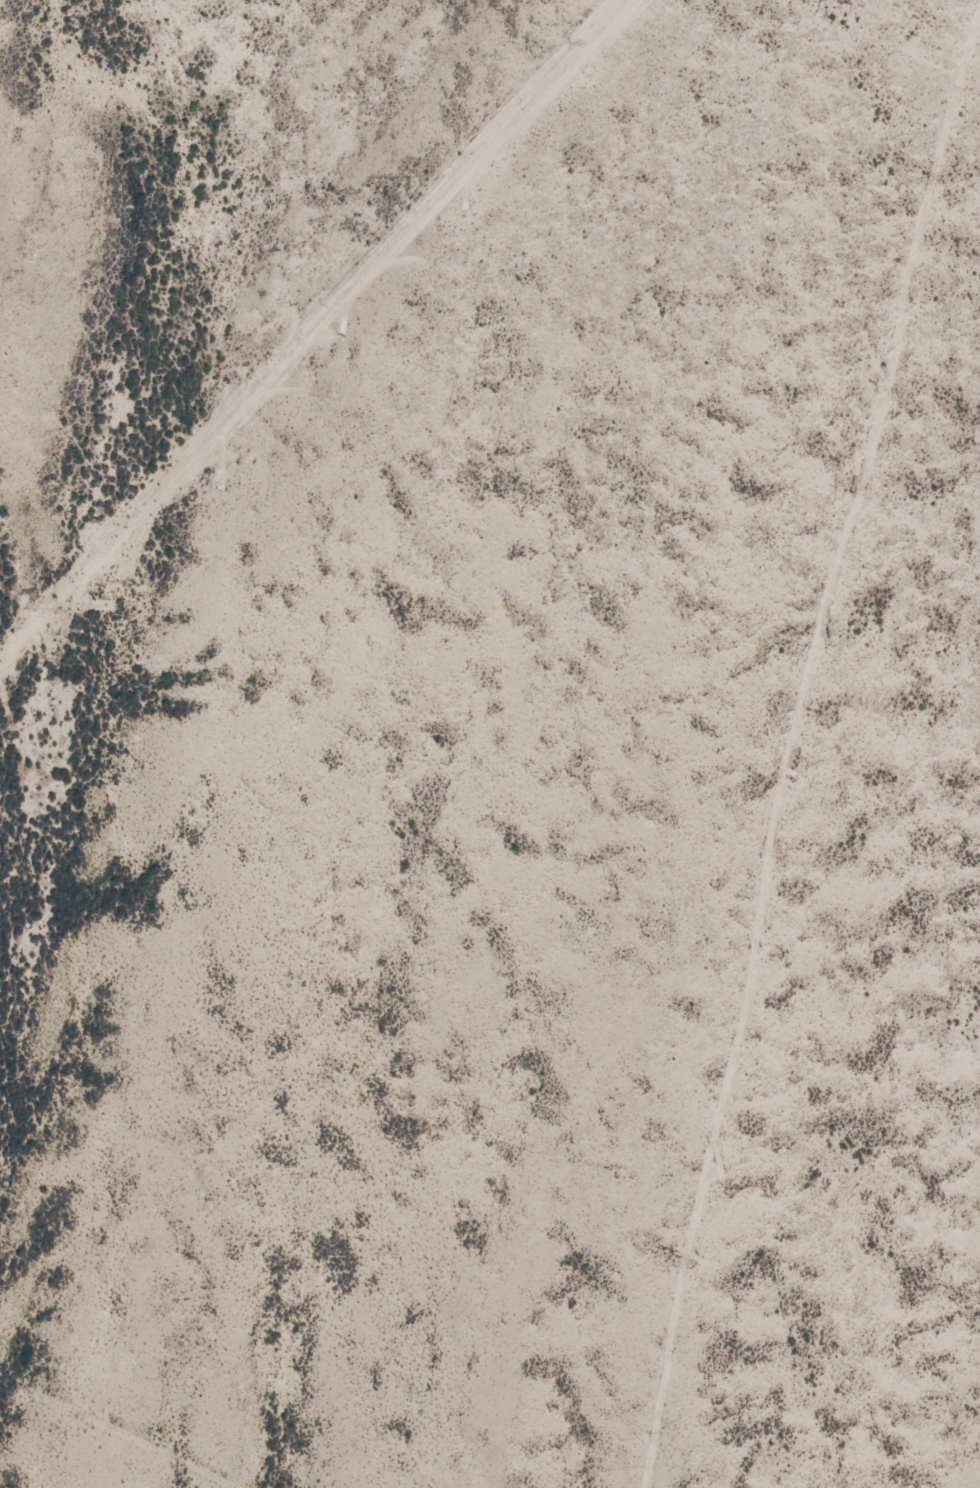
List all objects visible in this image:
road: (797, 789)

